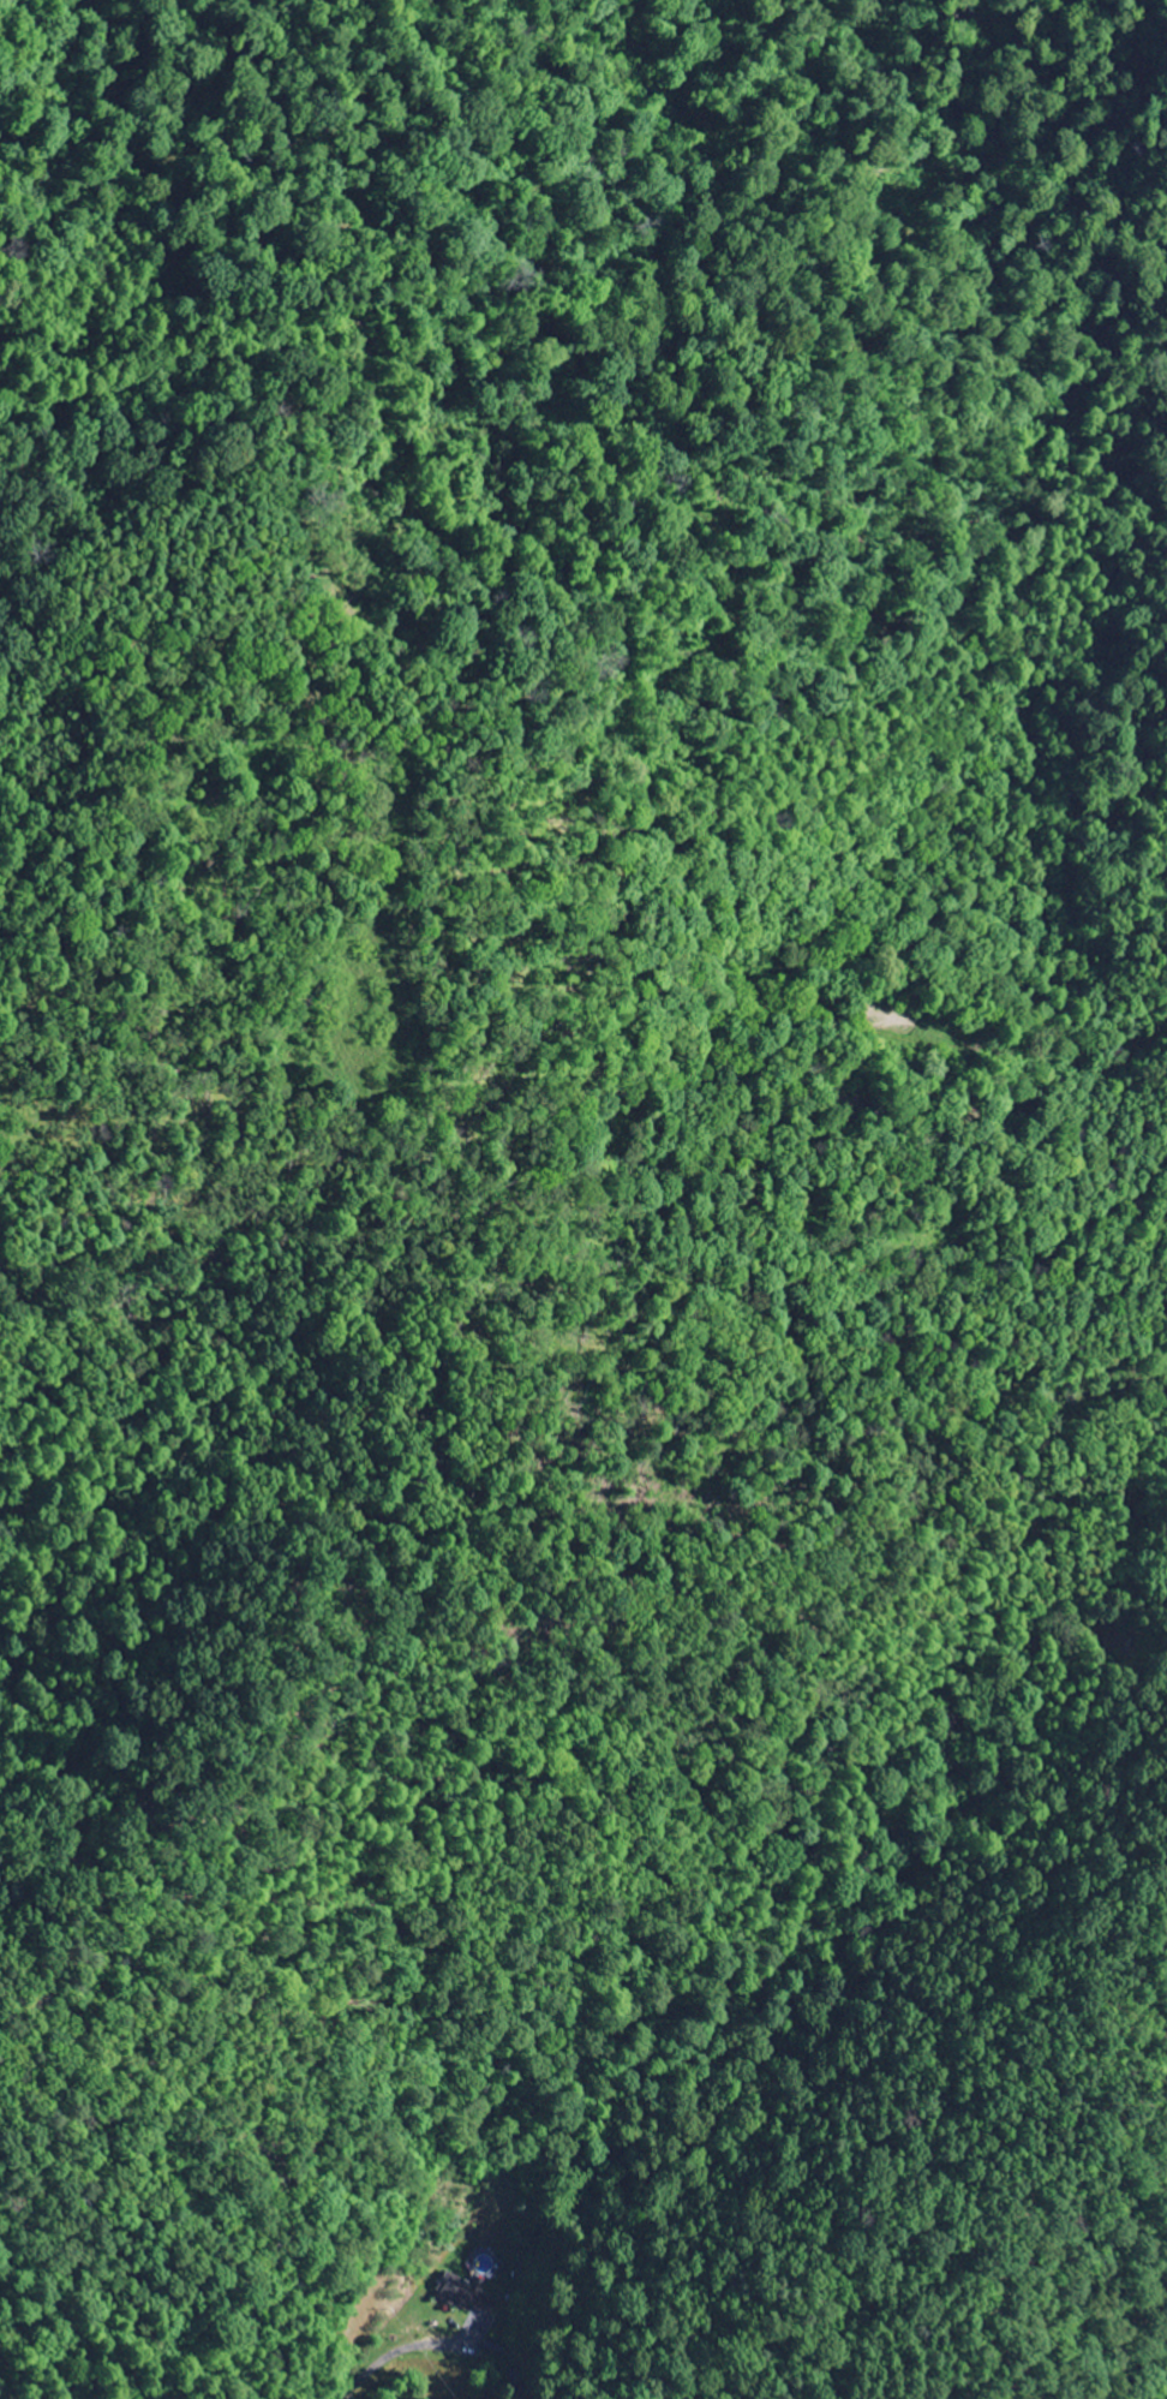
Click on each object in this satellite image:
building: (467, 2298)

